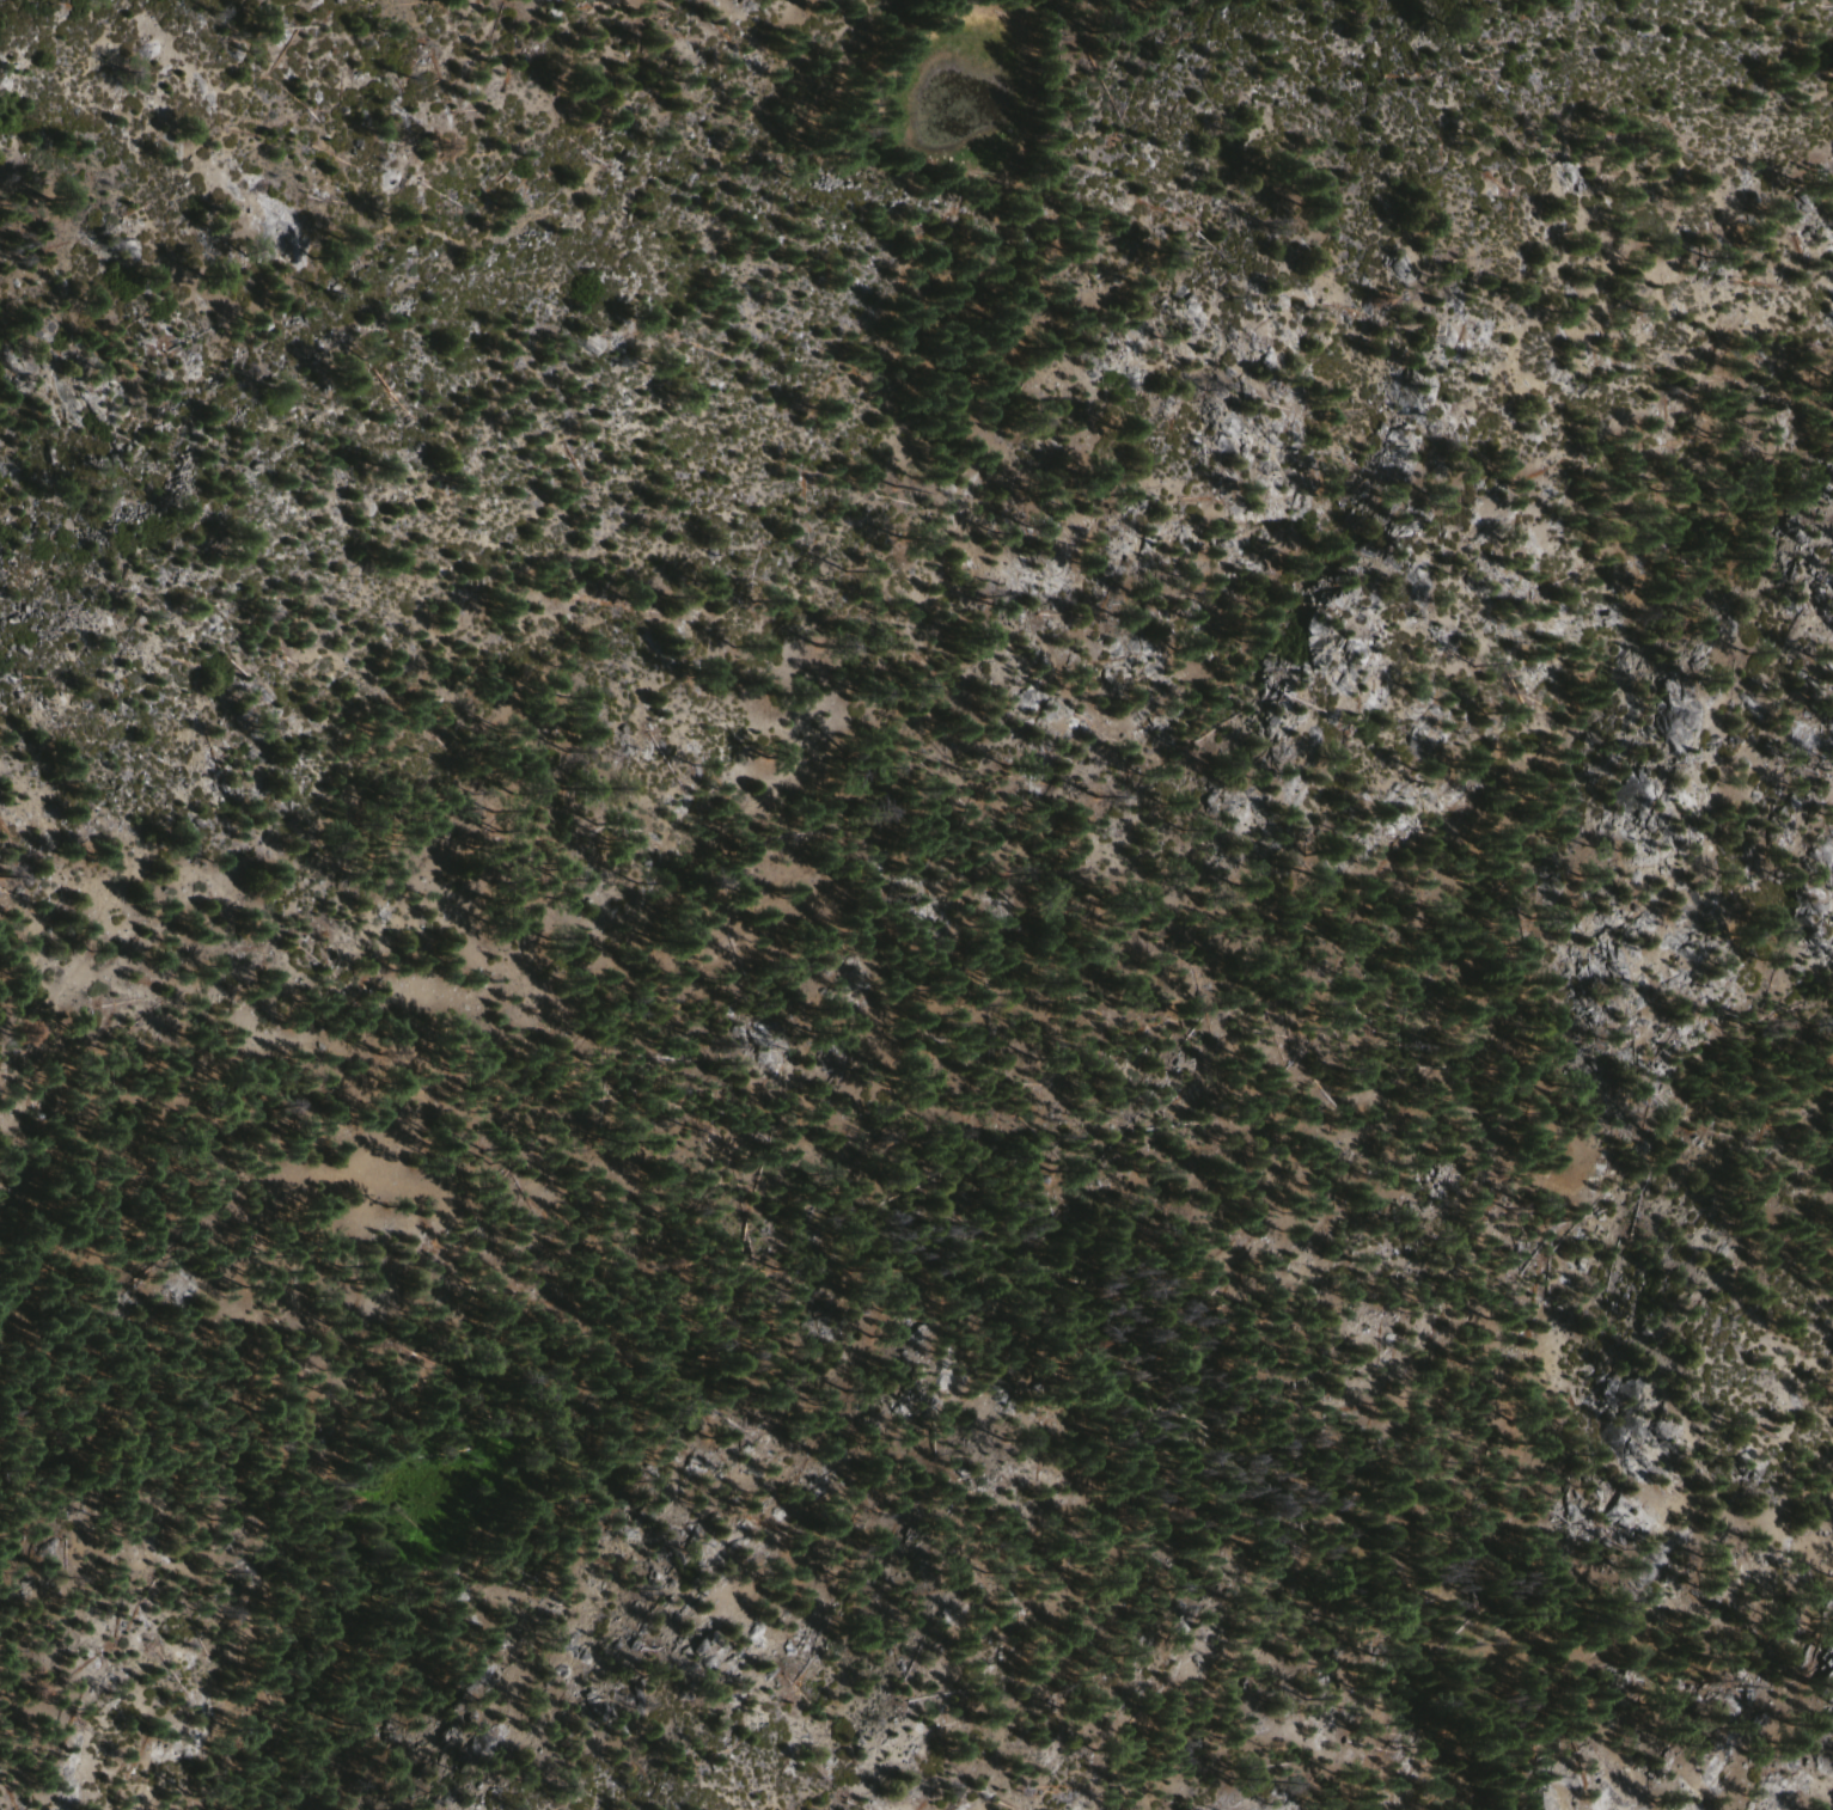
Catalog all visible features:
road: (875, 1181)

